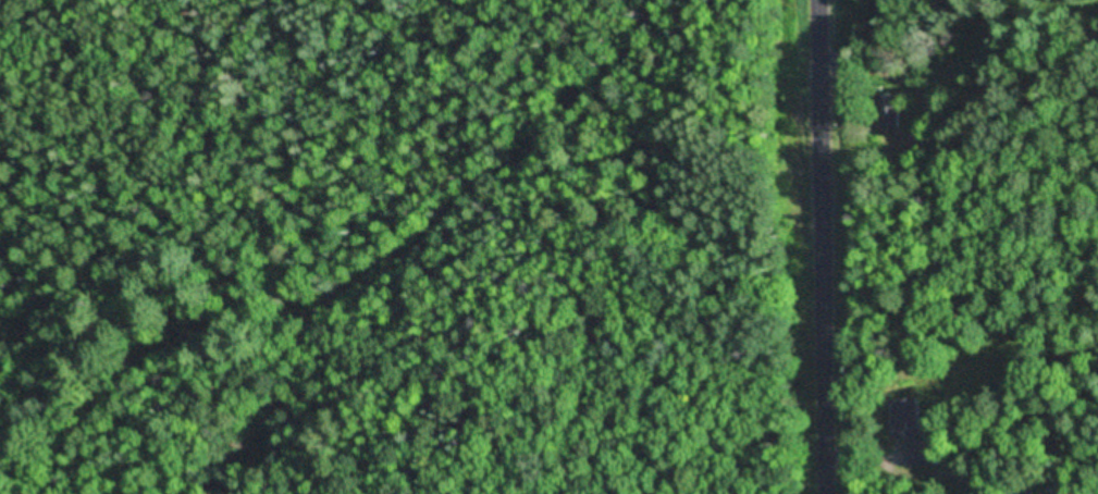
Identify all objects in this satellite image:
road: (821, 247)
building: (913, 432)
building: (1025, 491)

